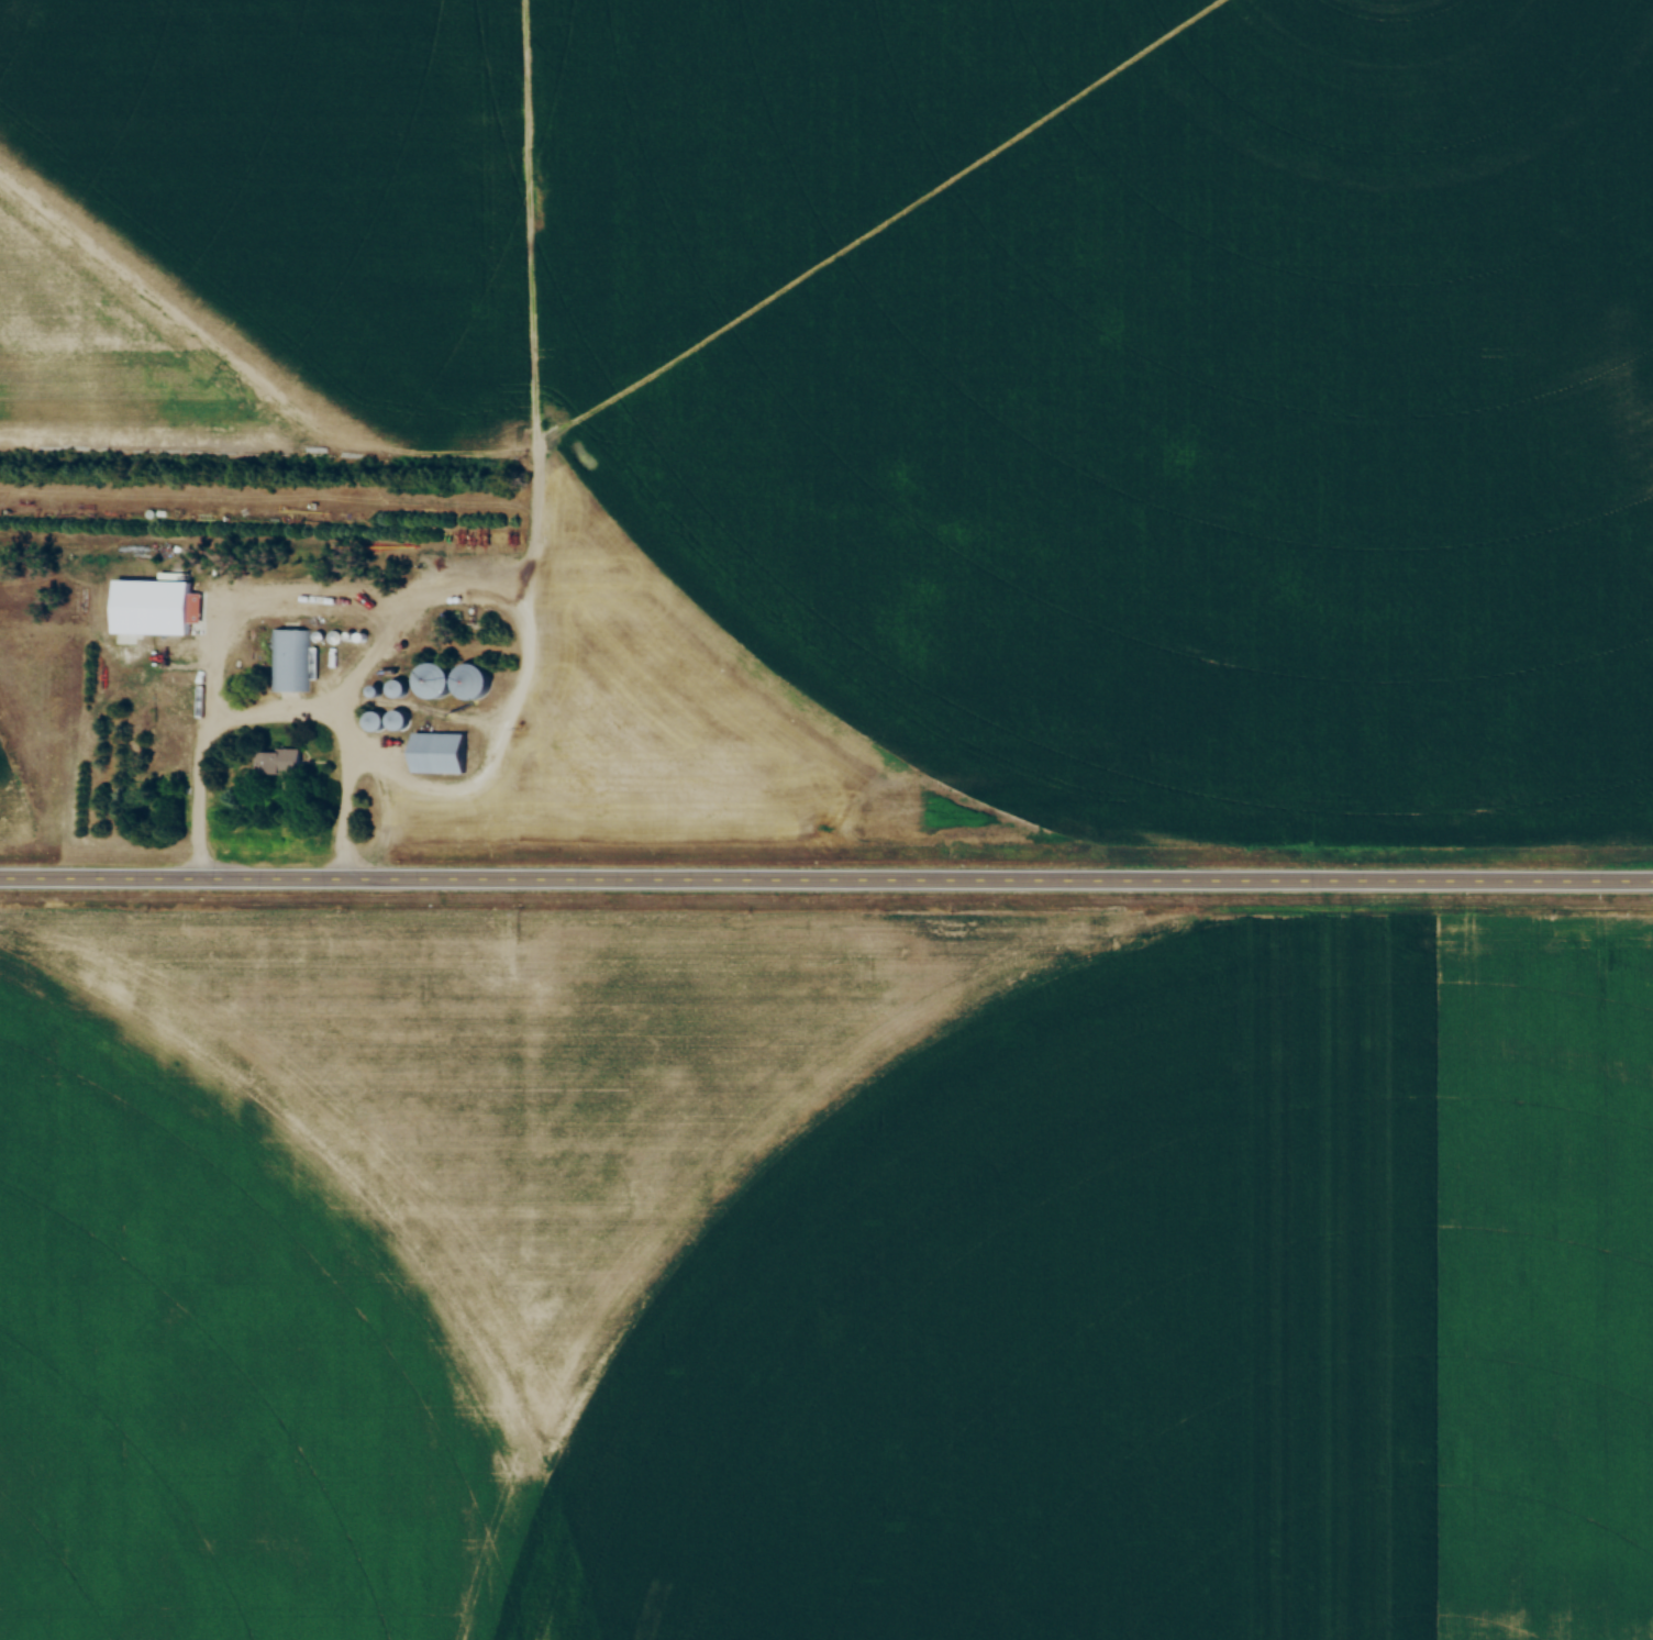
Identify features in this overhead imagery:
building: (353, 635)
silo: (353, 635)
building: (365, 635)
silo: (365, 635)
building: (322, 636)
silo: (322, 636)
building: (339, 636)
silo: (339, 636)
building: (288, 661)
building: (437, 679)
silo: (437, 679)
building: (474, 680)
silo: (474, 680)
building: (401, 688)
silo: (401, 688)
building: (378, 691)
silo: (378, 691)
building: (182, 699)
building: (378, 720)
silo: (378, 720)
building: (401, 721)
silo: (401, 721)
road: (339, 752)
building: (280, 762)
road: (825, 880)

